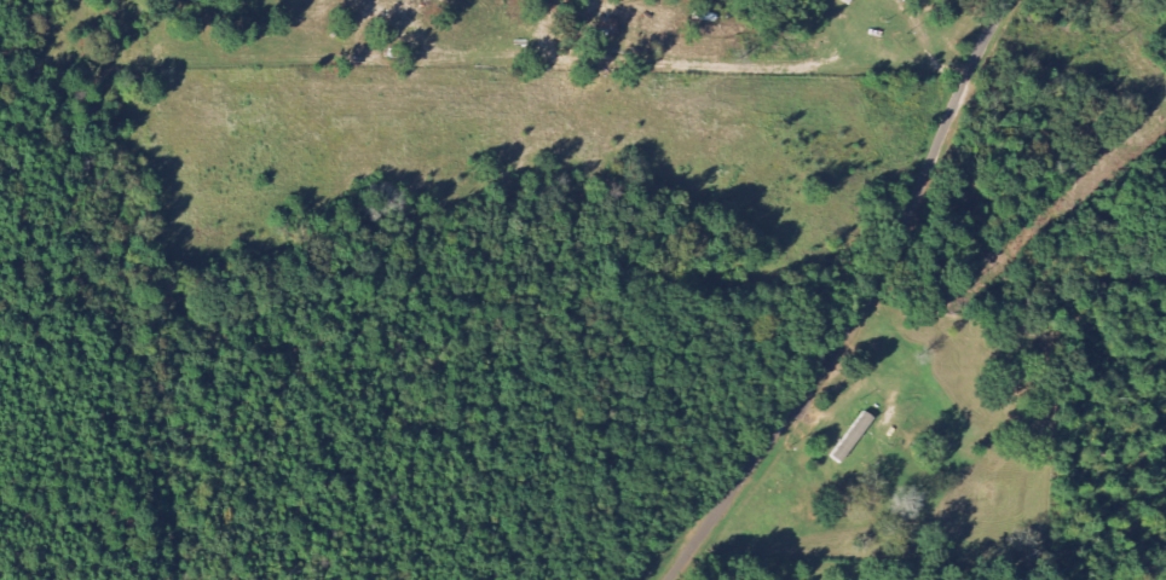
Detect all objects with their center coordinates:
road: (862, 304)
building: (856, 436)

